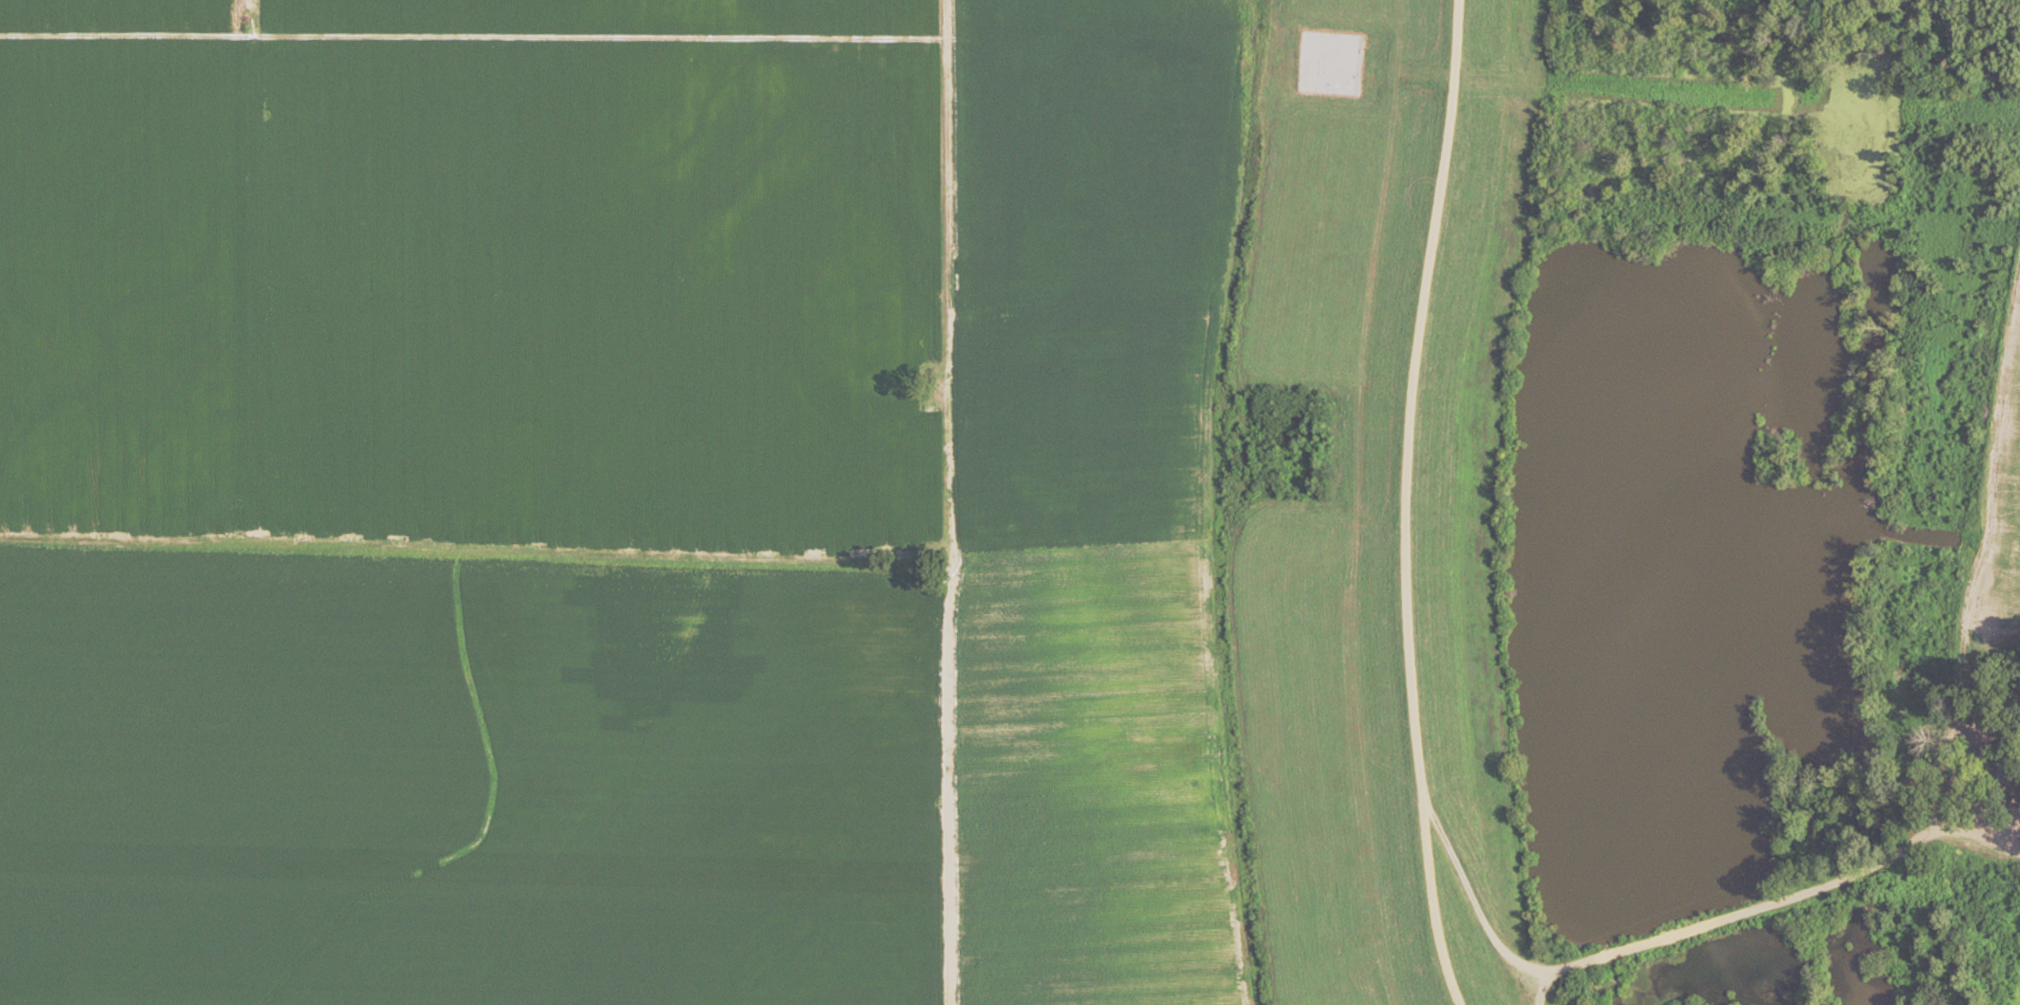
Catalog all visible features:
road: (1404, 503)
road: (1743, 915)

